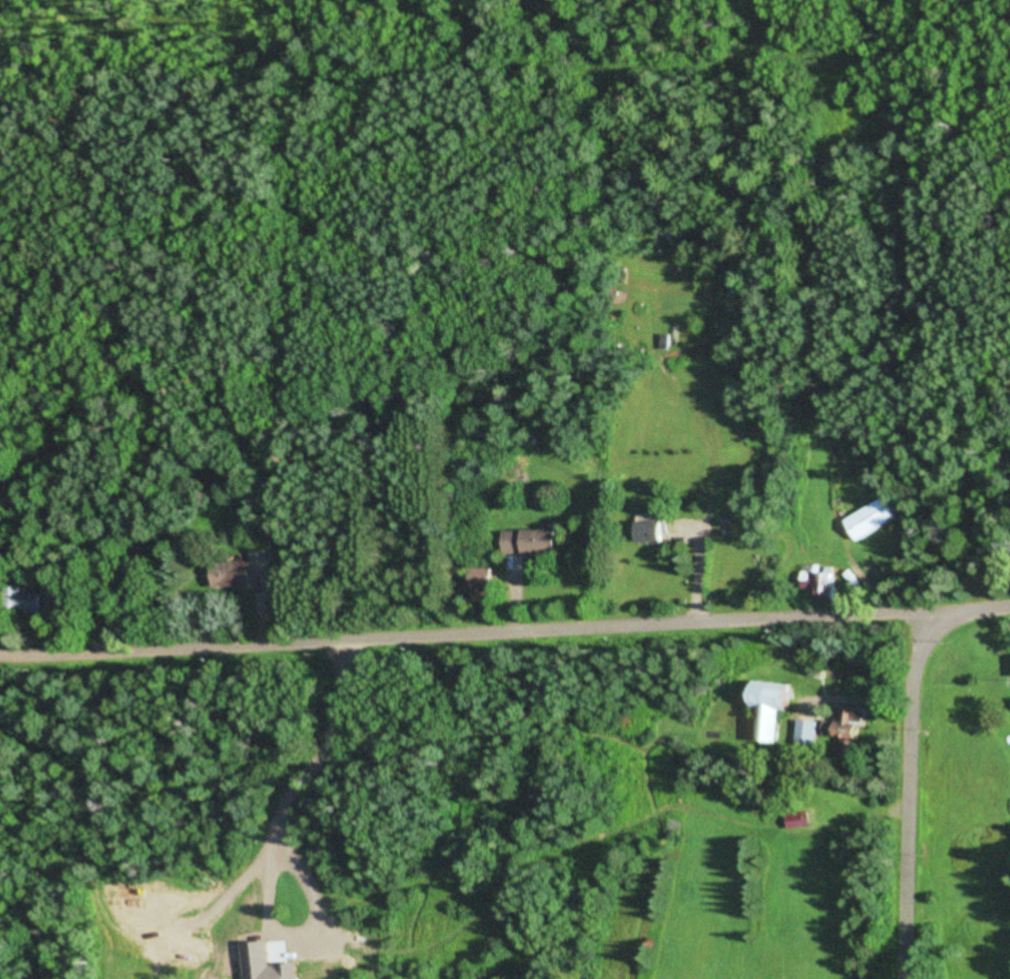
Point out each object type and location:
building: (666, 343)
building: (871, 519)
building: (651, 529)
building: (531, 543)
building: (240, 570)
building: (820, 583)
building: (20, 600)
building: (48, 601)
road: (970, 615)
road: (465, 646)
building: (774, 707)
building: (847, 730)
building: (806, 732)
road: (917, 798)

